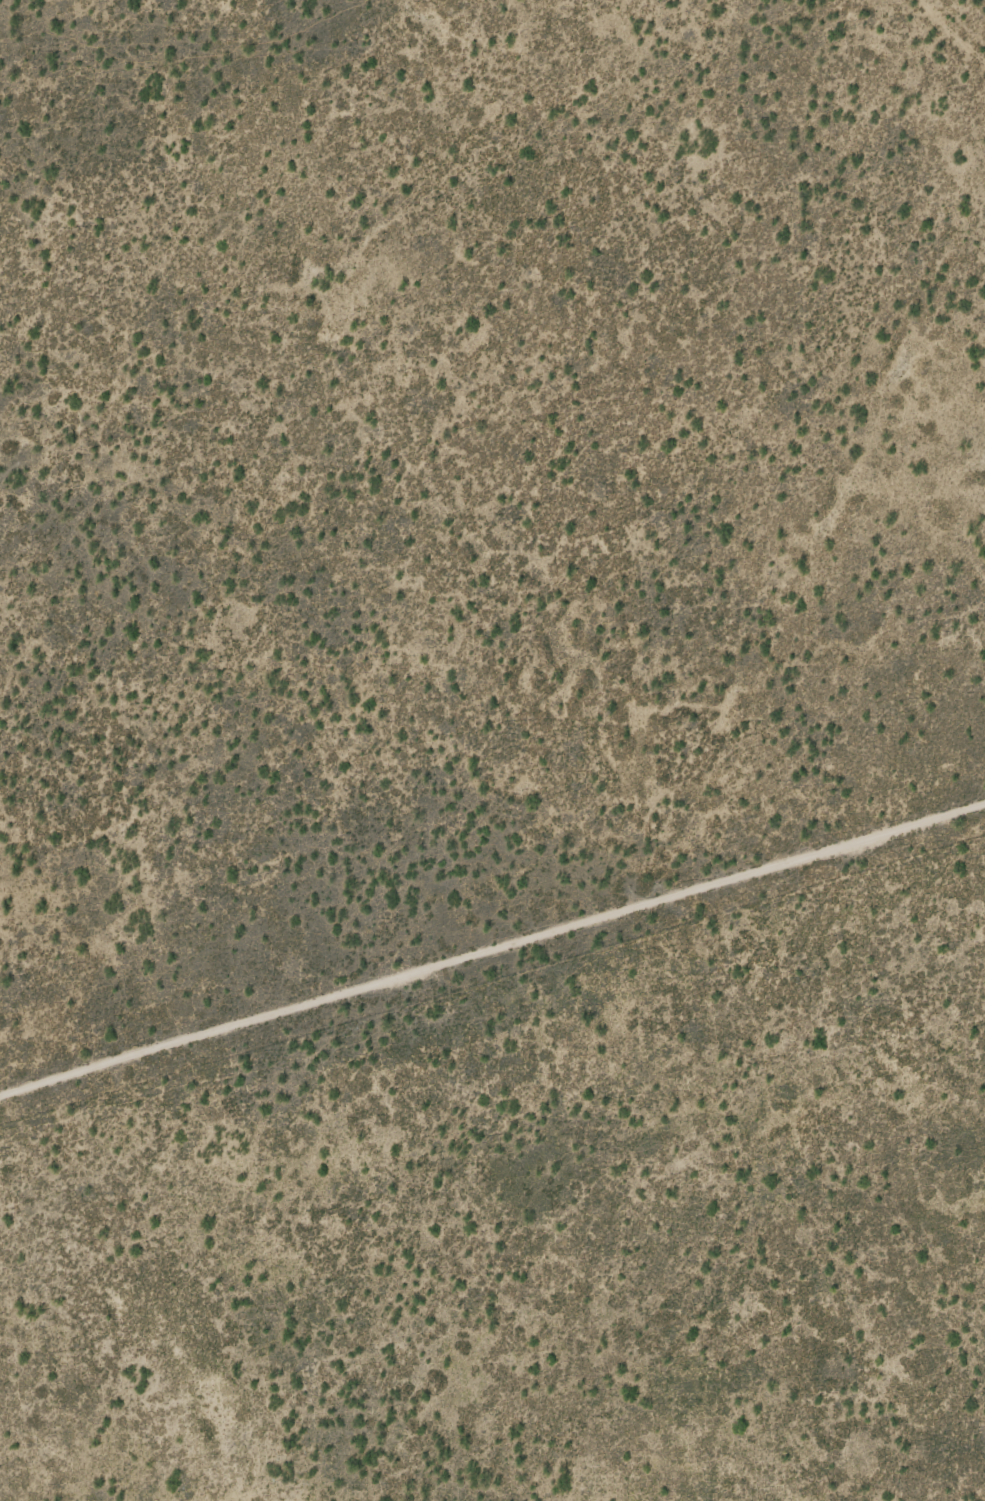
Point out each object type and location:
road: (492, 948)

